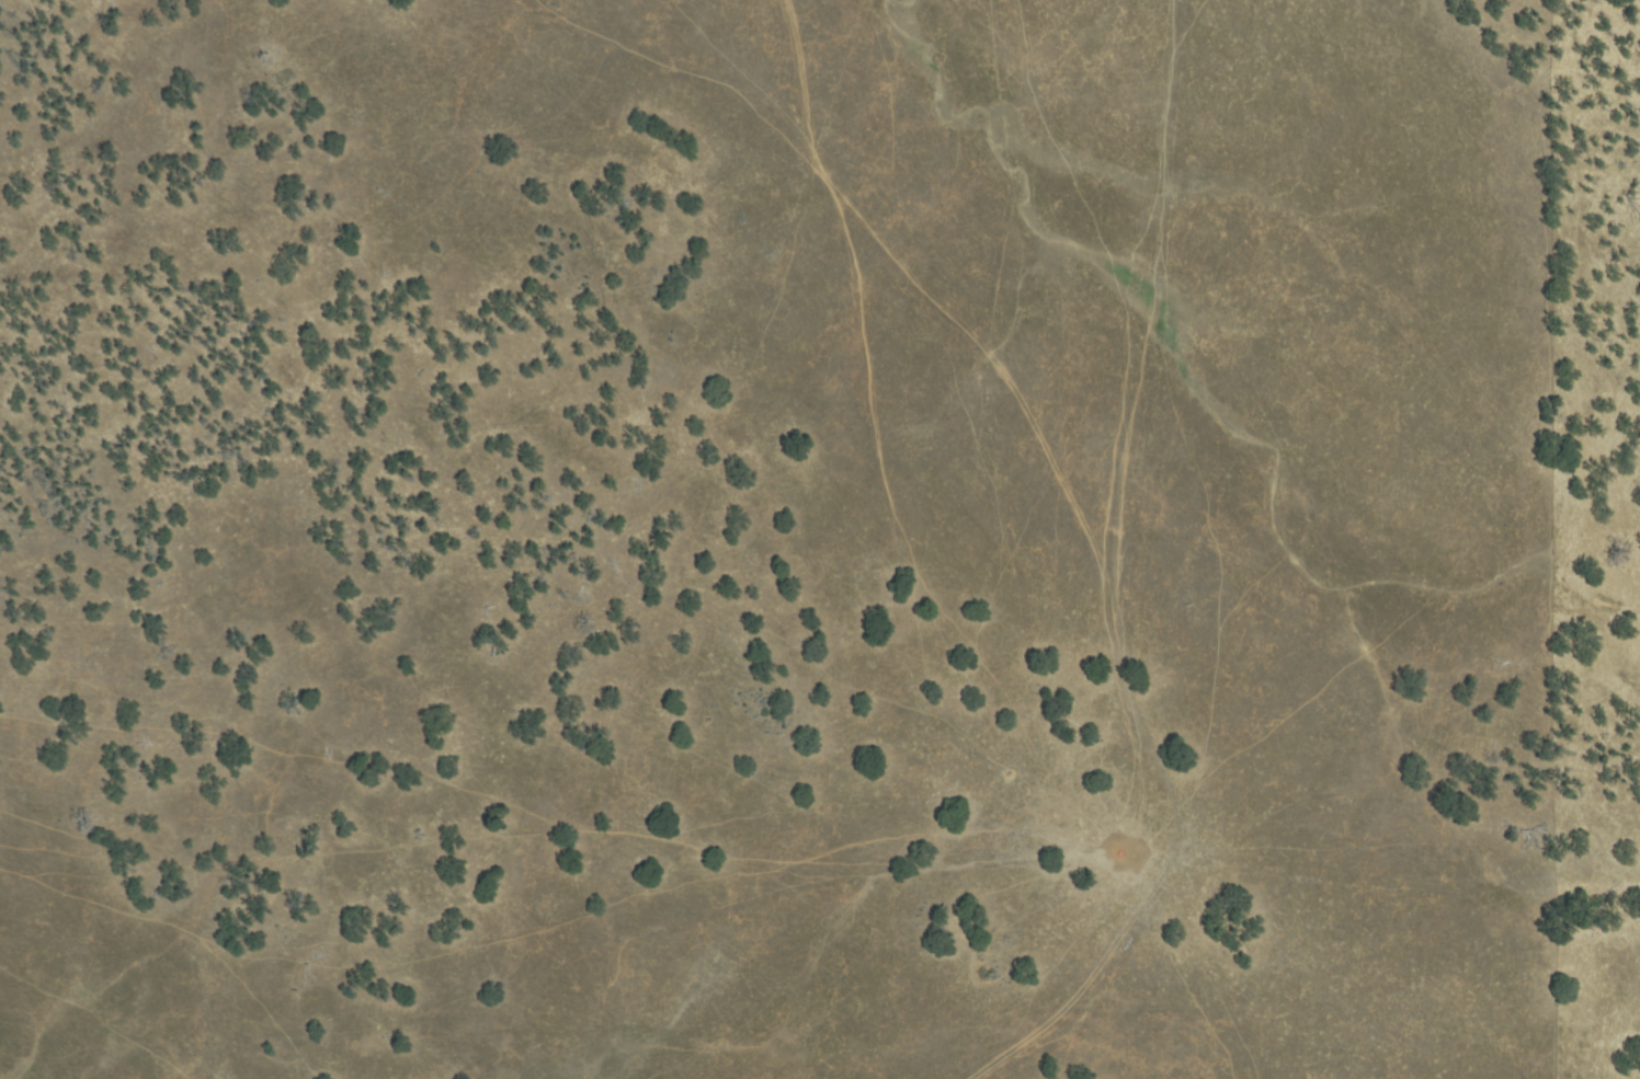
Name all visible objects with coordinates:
road: (1121, 586)

